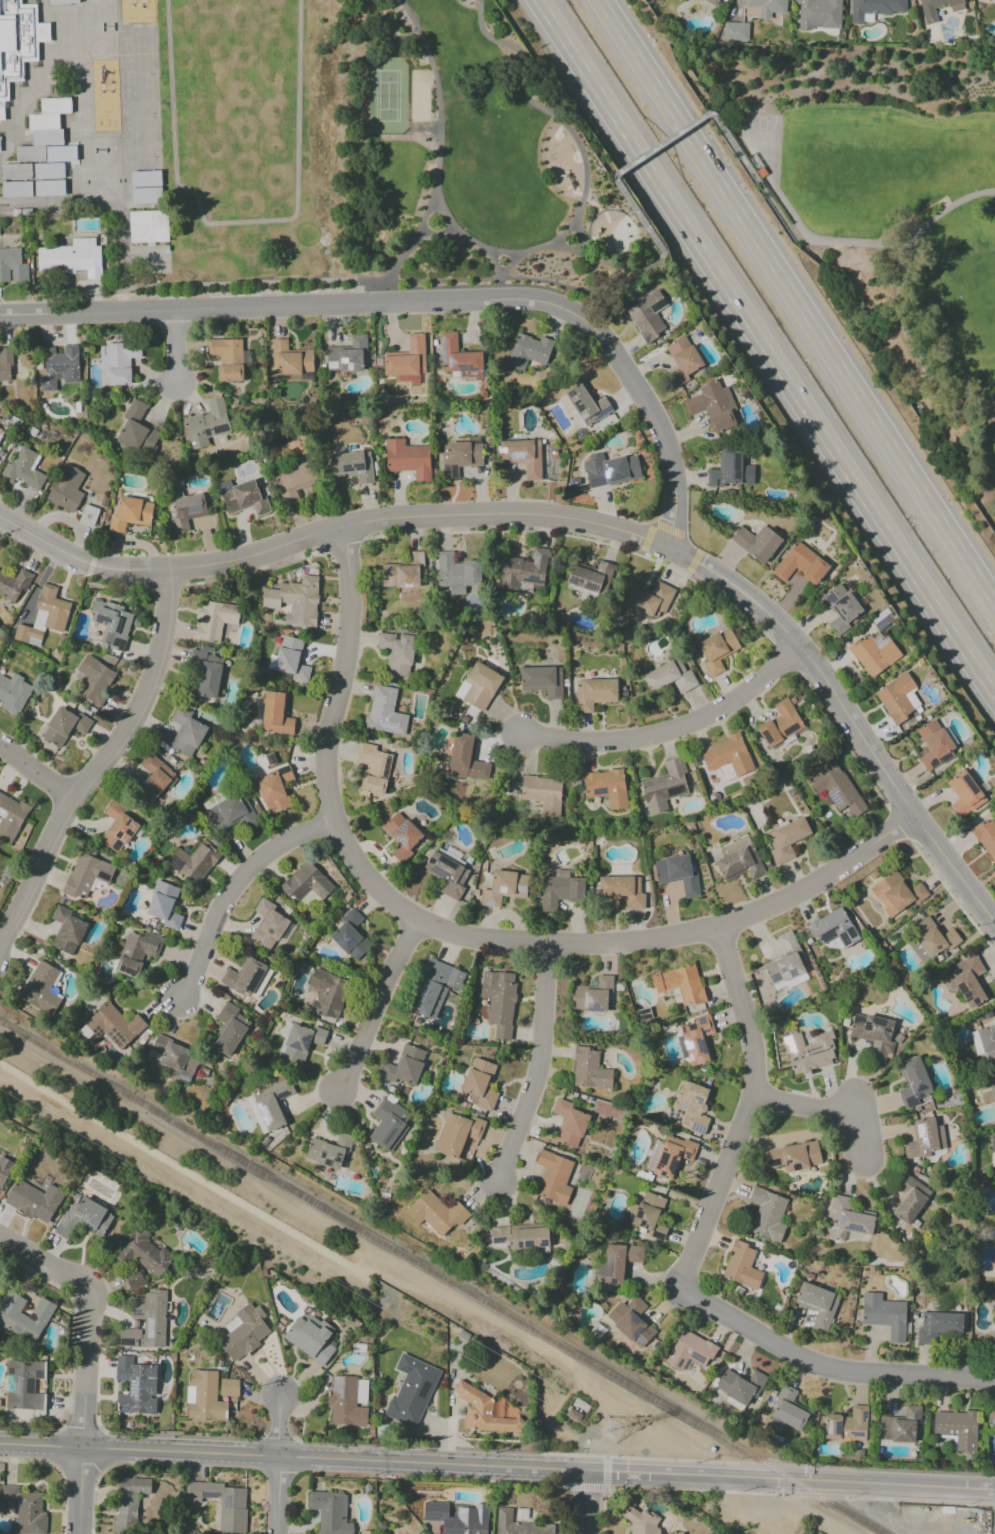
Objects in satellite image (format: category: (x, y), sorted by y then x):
building: (712, 2)
rooftop solar panel: (953, 2)
building: (769, 8)
building: (876, 8)
building: (928, 12)
building: (819, 14)
park: (106, 27)
building: (735, 31)
road: (407, 34)
building: (17, 43)
park: (148, 95)
park: (420, 95)
park: (126, 96)
park: (387, 96)
building: (56, 105)
track: (235, 105)
park: (127, 111)
building: (44, 122)
road: (689, 125)
park: (128, 128)
road: (423, 130)
park: (762, 130)
building: (48, 137)
park: (150, 139)
road: (575, 141)
park: (129, 142)
park: (99, 150)
building: (31, 154)
building: (62, 154)
road: (439, 155)
park: (129, 158)
park: (490, 165)
building: (49, 171)
building: (17, 172)
building: (146, 179)
park: (98, 183)
building: (49, 188)
building: (17, 190)
building: (147, 196)
road: (592, 204)
park: (884, 210)
road: (446, 213)
building: (148, 226)
road: (564, 231)
road: (434, 235)
road: (856, 241)
road: (808, 242)
road: (546, 246)
road: (626, 246)
road: (484, 248)
road: (580, 248)
building: (71, 259)
road: (494, 264)
building: (12, 266)
road: (479, 280)
road: (244, 283)
road: (376, 285)
road: (608, 290)
road: (241, 291)
road: (796, 301)
road: (421, 304)
road: (121, 305)
rooftop solar panel: (657, 305)
building: (647, 316)
road: (765, 348)
road: (909, 348)
road: (172, 349)
rooftop solar panel: (440, 351)
building: (528, 351)
building: (347, 355)
building: (227, 358)
building: (406, 358)
building: (682, 360)
building: (118, 362)
building: (291, 362)
rooftop solar panel: (447, 363)
building: (5, 364)
rooftop solar panel: (75, 365)
building: (59, 367)
rooftop solar panel: (469, 367)
rooftop solar panel: (58, 368)
rooftop solar panel: (458, 369)
building: (406, 379)
rooftop solar panel: (49, 388)
rooftop solar panel: (568, 394)
rooftop solar panel: (575, 404)
building: (586, 404)
building: (712, 406)
rooftop solar panel: (601, 412)
rooftop solar panel: (581, 416)
building: (206, 424)
rooftop solar panel: (220, 429)
building: (137, 431)
building: (0, 432)
rooftop solar panel: (207, 433)
rooftop solar panel: (473, 441)
building: (0, 446)
rooftop solar panel: (500, 452)
building: (458, 456)
rooftop solar panel: (516, 456)
building: (522, 456)
rooftop solar panel: (508, 457)
building: (407, 458)
building: (352, 466)
rooftop solar panel: (357, 466)
rooftop solar panel: (737, 466)
building: (23, 469)
rooftop solar panel: (344, 469)
building: (610, 470)
building: (731, 470)
rooftop solar panel: (453, 472)
rooftop solar panel: (445, 474)
rooftop solar panel: (738, 474)
building: (293, 482)
building: (66, 488)
building: (243, 497)
building: (185, 510)
building: (130, 514)
building: (88, 516)
road: (581, 519)
building: (756, 542)
road: (629, 552)
rooftop solar panel: (534, 558)
building: (800, 564)
building: (523, 570)
building: (402, 572)
building: (456, 573)
building: (592, 577)
rooftop solar panel: (531, 579)
rooftop solar panel: (572, 580)
building: (14, 585)
rooftop solar panel: (587, 585)
building: (647, 598)
building: (295, 600)
building: (841, 608)
building: (44, 617)
rooftop solar panel: (104, 620)
building: (215, 620)
rooftop solar panel: (880, 622)
building: (111, 624)
rooftop solar panel: (117, 644)
building: (716, 650)
building: (397, 651)
building: (874, 652)
building: (289, 659)
building: (206, 671)
building: (669, 677)
building: (95, 679)
building: (542, 680)
building: (478, 686)
building: (13, 693)
building: (594, 693)
building: (898, 697)
building: (384, 711)
building: (275, 713)
building: (780, 724)
building: (63, 726)
rooftop solar panel: (794, 727)
road: (678, 728)
building: (186, 732)
rooftop solar panel: (765, 734)
rooftop solar panel: (768, 740)
building: (933, 745)
building: (727, 755)
building: (465, 758)
rooftop solar panel: (945, 759)
rooftop solar panel: (933, 763)
road: (95, 766)
building: (374, 769)
road: (34, 772)
building: (153, 778)
rooftop solar panel: (968, 784)
building: (664, 786)
building: (606, 787)
building: (836, 788)
building: (275, 790)
rooftop solar panel: (675, 792)
rooftop solar panel: (600, 793)
building: (542, 794)
building: (964, 794)
building: (212, 801)
building: (229, 813)
building: (10, 816)
rooftop solar panel: (127, 822)
building: (117, 827)
rooftop solar panel: (400, 829)
rooftop solar panel: (130, 832)
rooftop solar panel: (117, 833)
building: (401, 835)
building: (986, 837)
building: (786, 839)
rooftop solar panel: (400, 841)
rooftop solar panel: (117, 844)
building: (193, 861)
rooftop solar panel: (175, 864)
building: (740, 864)
building: (446, 874)
building: (677, 874)
building: (86, 875)
rooftop solar panel: (100, 877)
building: (306, 883)
building: (503, 887)
road: (236, 889)
building: (560, 890)
building: (621, 891)
building: (896, 893)
building: (164, 905)
building: (269, 925)
building: (833, 928)
building: (67, 930)
rooftop solar panel: (826, 933)
building: (350, 935)
rooftop solar panel: (828, 937)
road: (462, 938)
rooftop solar panel: (843, 940)
building: (930, 940)
building: (135, 952)
building: (786, 963)
rooftop solar panel: (784, 971)
rooftop solar panel: (125, 973)
rooftop solar panel: (791, 973)
rooftop solar panel: (257, 975)
rooftop solar panel: (776, 978)
rooftop solar panel: (252, 979)
building: (966, 981)
building: (680, 983)
building: (434, 987)
building: (41, 988)
rooftop solar panel: (961, 990)
building: (326, 993)
building: (592, 995)
rooftop solar panel: (966, 996)
rooftop solar panel: (585, 1000)
building: (499, 1001)
rooftop solar panel: (975, 1002)
road: (378, 1008)
rooftop solar panel: (592, 1011)
rooftop solar panel: (858, 1018)
rooftop solar panel: (875, 1019)
rooftop solar panel: (700, 1020)
building: (114, 1025)
building: (229, 1029)
rooftop solar panel: (705, 1031)
building: (873, 1034)
building: (697, 1039)
building: (300, 1042)
building: (988, 1042)
rooftop solar panel: (789, 1043)
rooftop solar panel: (687, 1044)
rooftop solar panel: (702, 1045)
building: (808, 1052)
rooftop solar panel: (691, 1056)
building: (176, 1057)
building: (404, 1066)
road: (537, 1069)
building: (589, 1069)
building: (912, 1082)
building: (480, 1083)
rooftop solar panel: (921, 1088)
building: (992, 1090)
rooftop solar panel: (921, 1096)
rooftop solar panel: (699, 1100)
rooftop solar panel: (909, 1101)
building: (272, 1104)
rooftop solar panel: (683, 1105)
building: (690, 1107)
road: (830, 1108)
road: (748, 1112)
building: (389, 1123)
building: (569, 1123)
rooftop solar panel: (699, 1127)
rooftop solar panel: (923, 1131)
building: (457, 1135)
building: (924, 1139)
building: (992, 1150)
building: (328, 1151)
rooftop solar panel: (322, 1152)
rooftop solar panel: (666, 1152)
rooftop solar panel: (652, 1153)
rooftop solar panel: (681, 1154)
rooftop solar panel: (687, 1155)
building: (672, 1156)
building: (793, 1157)
rooftop solar panel: (664, 1159)
rooftop solar panel: (789, 1161)
rooftop solar panel: (326, 1163)
rooftop solar panel: (770, 1163)
rooftop solar panel: (659, 1165)
rooftop solar panel: (794, 1165)
road: (175, 1167)
rooftop solar panel: (658, 1168)
building: (4, 1169)
building: (553, 1177)
building: (909, 1198)
building: (34, 1200)
rooftop solar panel: (639, 1210)
rooftop solar panel: (80, 1213)
building: (436, 1213)
building: (767, 1214)
building: (650, 1215)
rooftop solar panel: (638, 1216)
building: (83, 1217)
rooftop solar panel: (90, 1217)
building: (849, 1217)
rooftop solar panel: (843, 1219)
rooftop solar panel: (643, 1224)
rooftop solar panel: (56, 1229)
rooftop solar panel: (852, 1229)
building: (520, 1236)
rooftop solar panel: (658, 1236)
rooftop solar panel: (501, 1241)
rooftop solar panel: (543, 1243)
rooftop solar panel: (518, 1245)
rooftop solar panel: (526, 1245)
building: (143, 1253)
building: (619, 1262)
road: (44, 1263)
rooftop solar panel: (609, 1266)
building: (741, 1266)
railway: (443, 1277)
building: (133, 1279)
building: (817, 1305)
rooftop solar panel: (136, 1312)
building: (884, 1315)
building: (24, 1316)
building: (146, 1321)
building: (631, 1321)
building: (938, 1327)
rooftop solar panel: (148, 1329)
building: (243, 1332)
building: (311, 1338)
rooftop solar panel: (125, 1342)
rooftop solar panel: (137, 1342)
rooftop solar panel: (148, 1345)
building: (689, 1350)
road: (70, 1354)
road: (826, 1365)
road: (85, 1368)
rooftop solar panel: (404, 1370)
road: (536, 1373)
rooftop solar panel: (122, 1377)
building: (23, 1384)
rooftop solar panel: (27, 1385)
rooftop solar panel: (338, 1385)
building: (740, 1385)
building: (135, 1386)
building: (228, 1387)
rooftop solar panel: (424, 1387)
rooftop solar panel: (15, 1388)
rooftop solar panel: (133, 1389)
rooftop solar panel: (147, 1389)
building: (411, 1390)
building: (203, 1396)
building: (344, 1401)
rooftop solar panel: (123, 1409)
rooftop solar panel: (147, 1410)
building: (481, 1411)
building: (787, 1411)
rooftop solar panel: (863, 1415)
building: (991, 1418)
building: (846, 1425)
building: (900, 1426)
rooftop solar panel: (829, 1427)
rooftop solar panel: (837, 1428)
building: (957, 1428)
road: (82, 1430)
rooftop solar panel: (857, 1433)
road: (349, 1445)
road: (103, 1451)
road: (276, 1463)
road: (497, 1467)
road: (859, 1468)
road: (59, 1472)
road: (94, 1485)
road: (557, 1487)
road: (601, 1489)
road: (80, 1490)
rooftop solar panel: (212, 1494)
road: (777, 1494)
rooftop solar panel: (229, 1502)
road: (599, 1503)
building: (128, 1504)
building: (222, 1504)
building: (24, 1510)
building: (330, 1512)
building: (457, 1517)
rooftop solar panel: (436, 1519)
building: (643, 1522)
building: (518, 1525)
building: (681, 1533)

